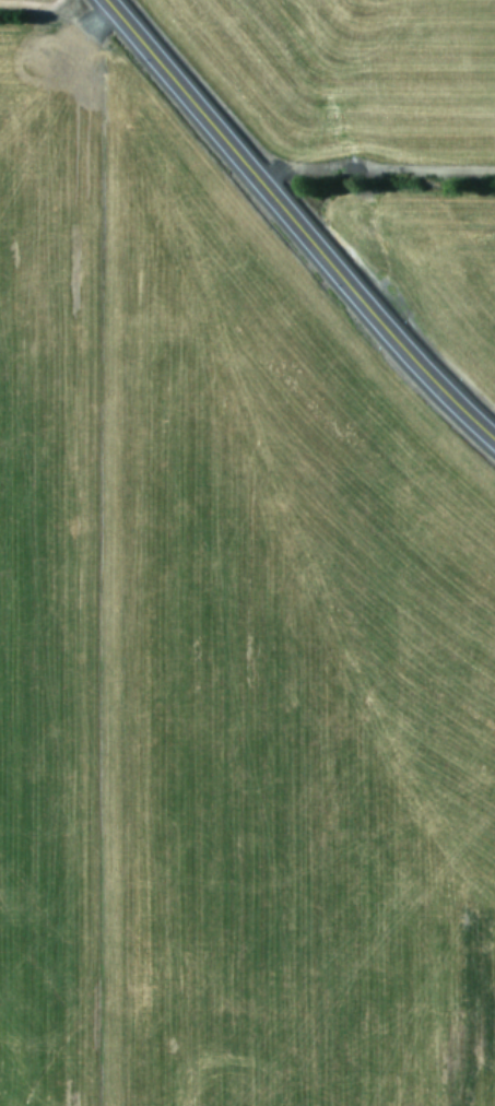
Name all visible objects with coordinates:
crop: (375, 134)
road: (292, 228)
crop: (222, 644)

